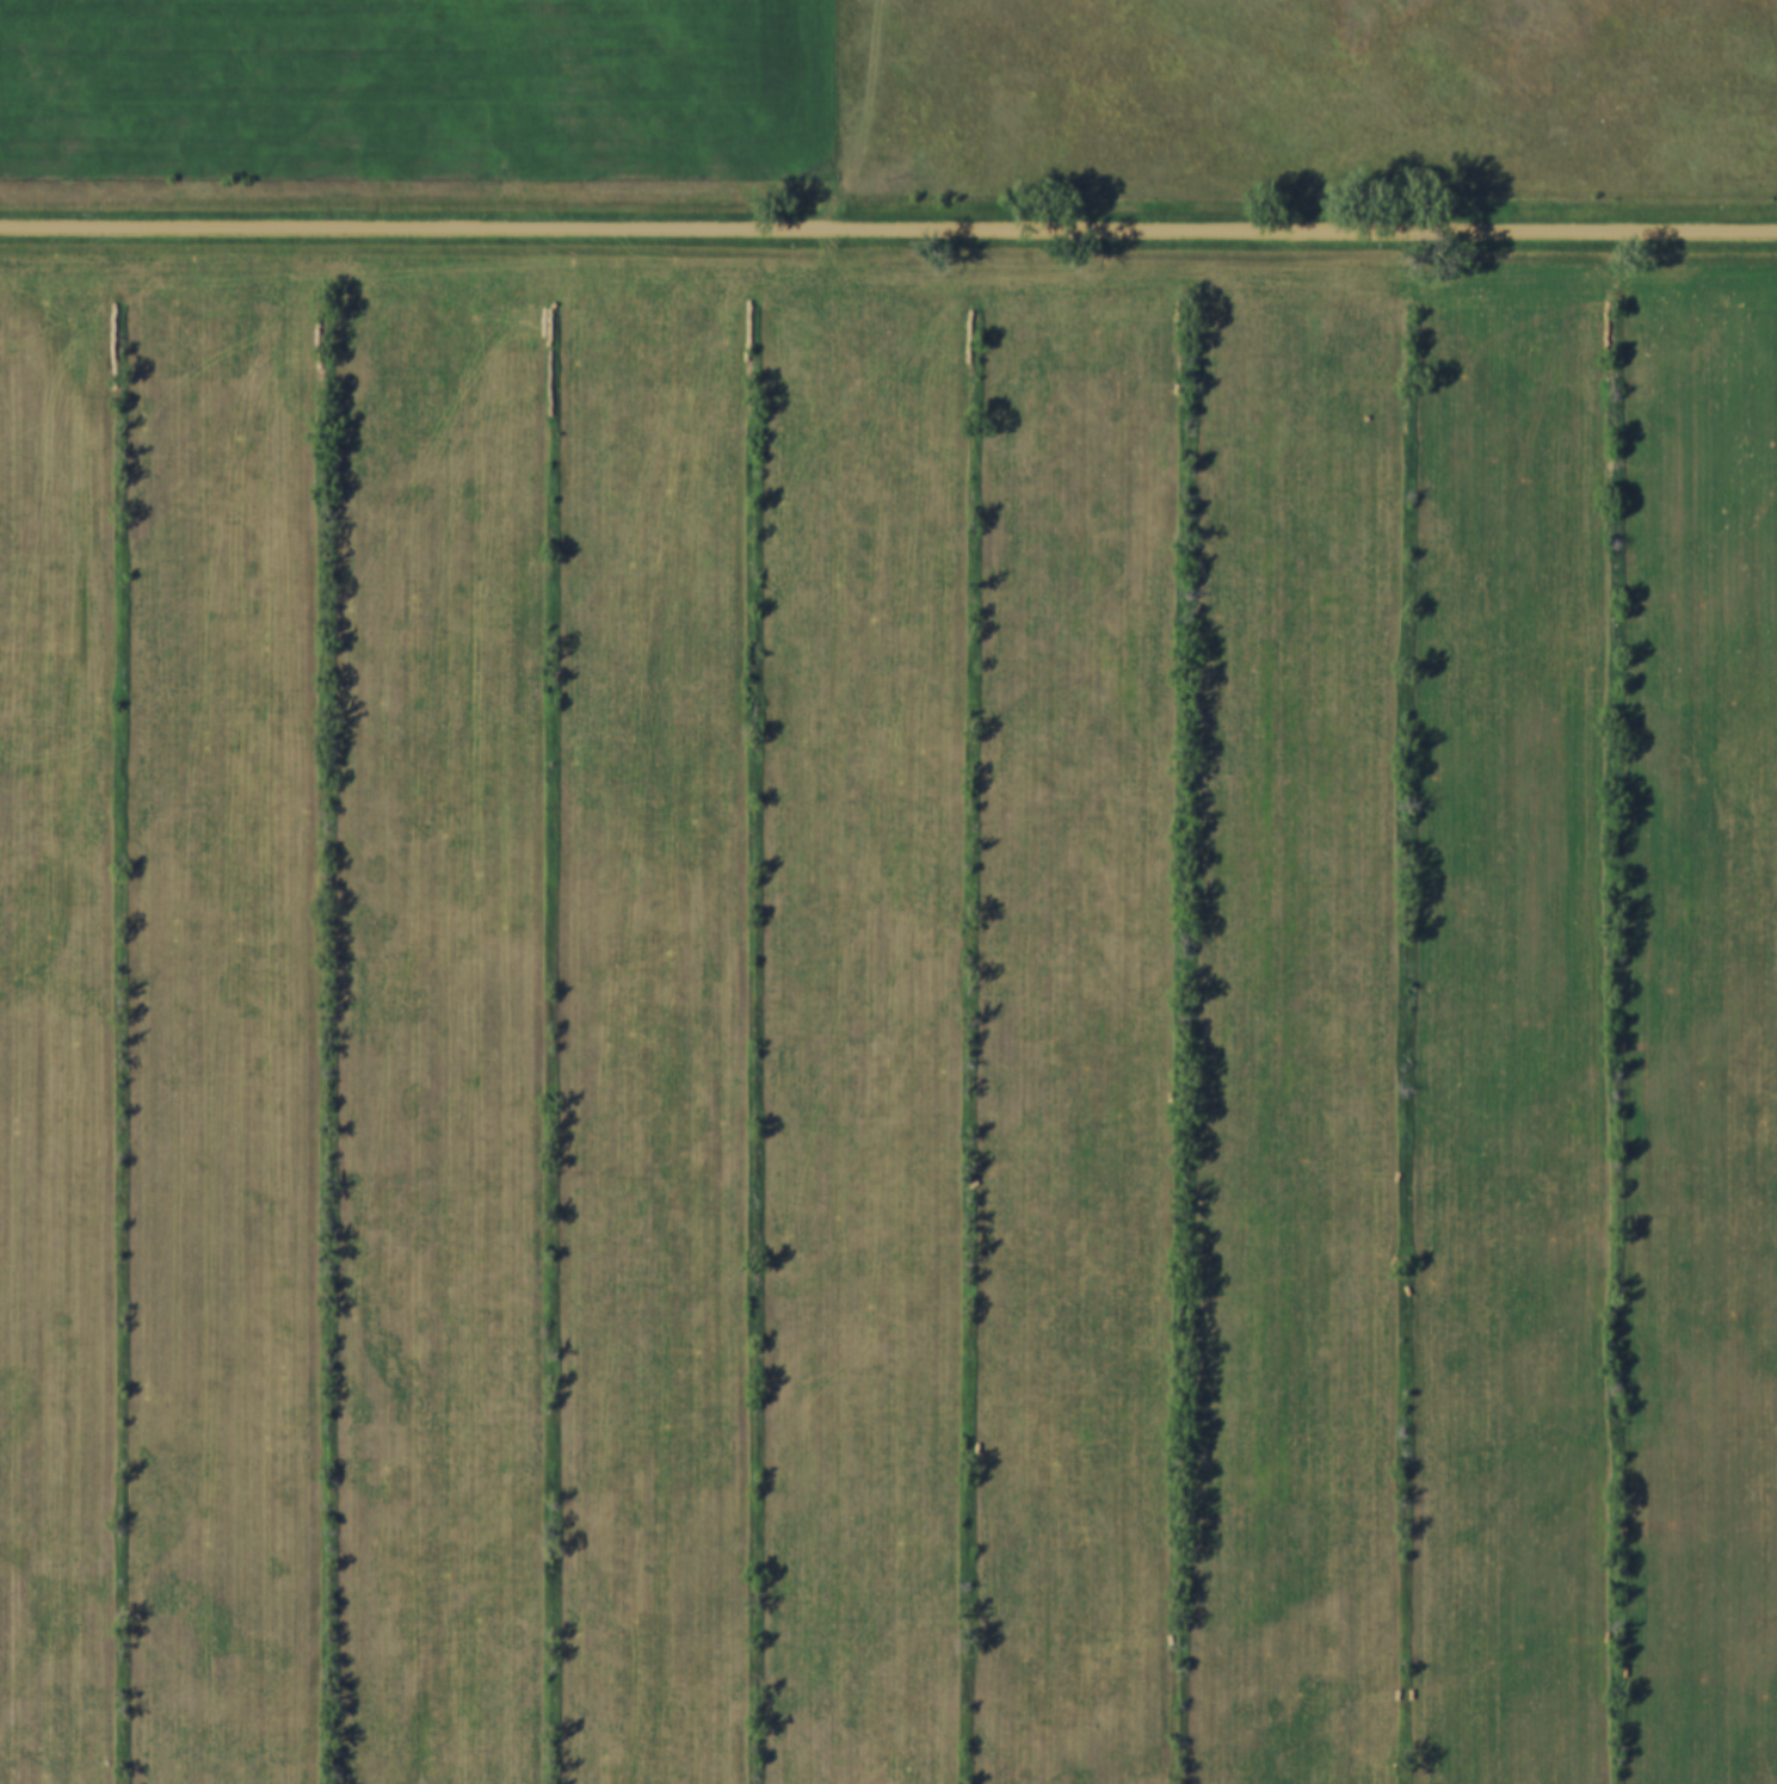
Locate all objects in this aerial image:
road: (888, 221)

